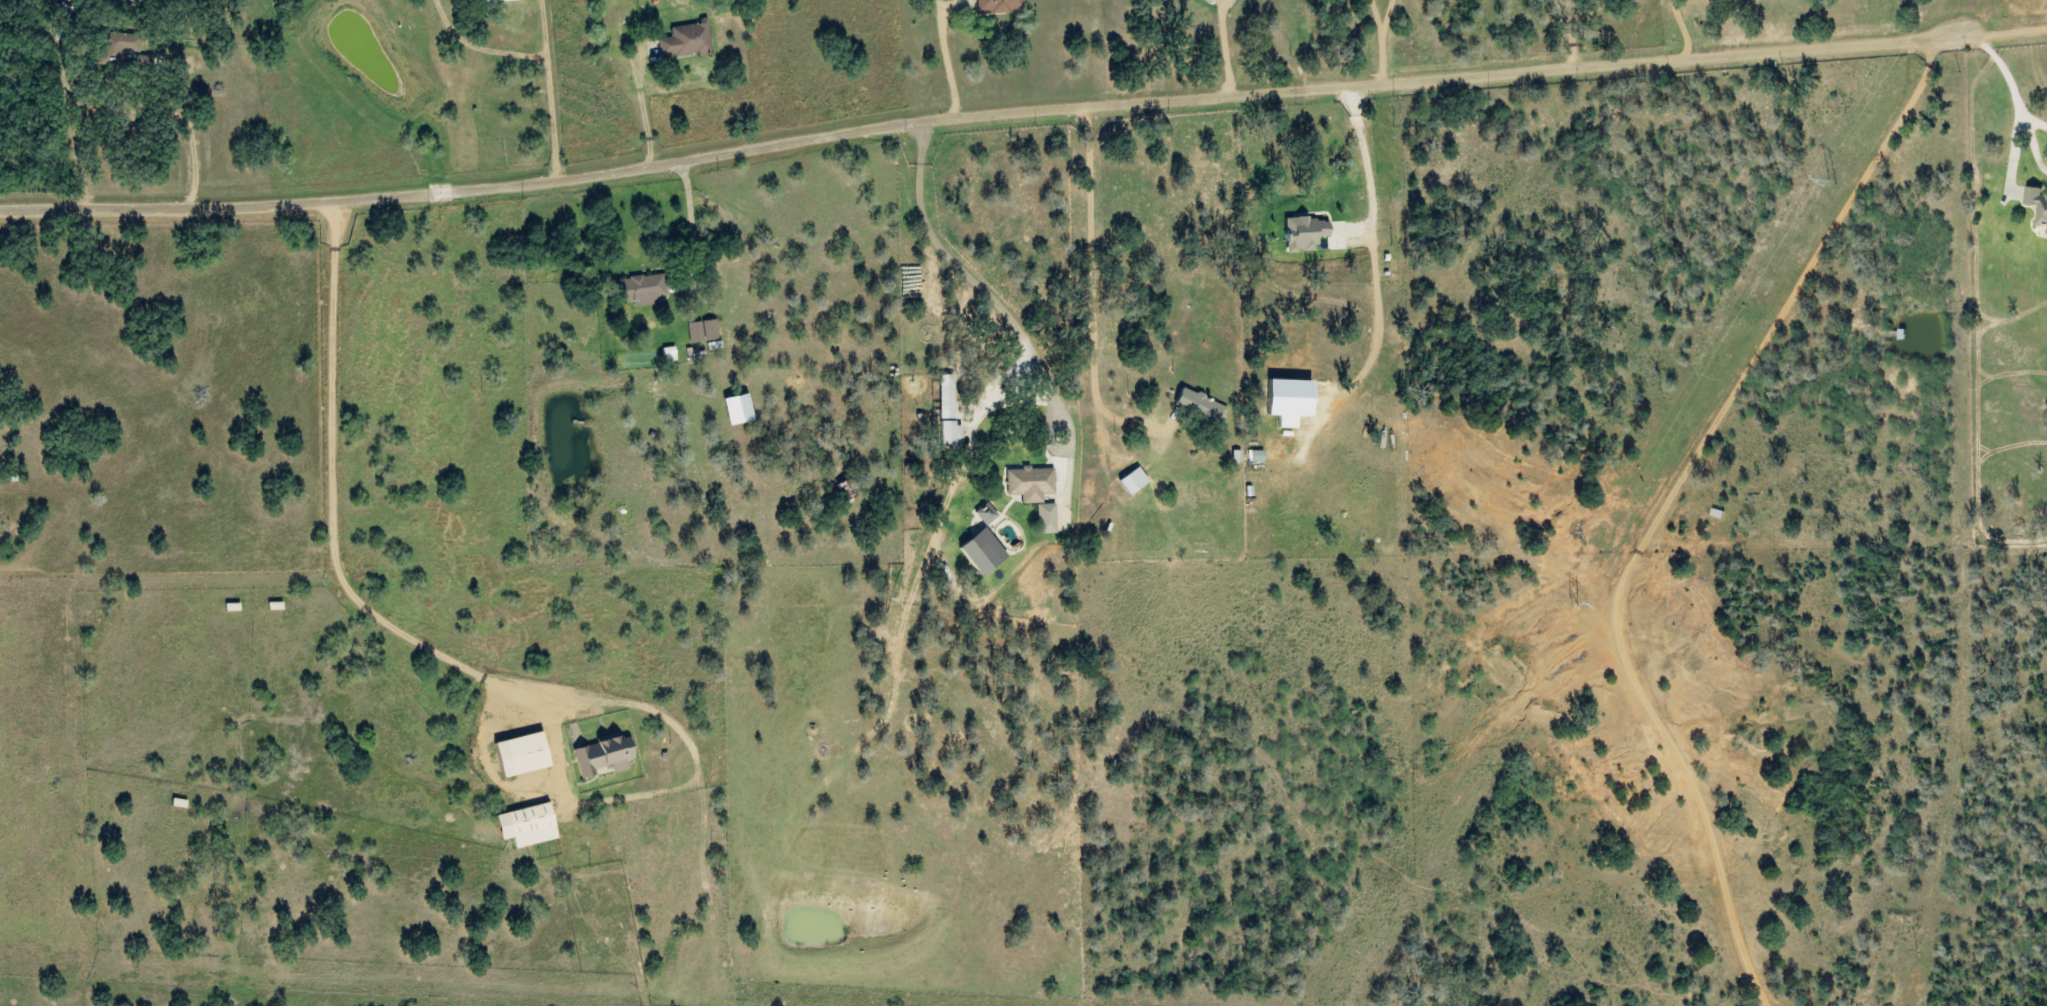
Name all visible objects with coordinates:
building: (494, 0)
road: (1225, 4)
building: (996, 5)
road: (1384, 40)
building: (688, 42)
building: (126, 45)
road: (1226, 46)
road: (946, 51)
road: (981, 115)
road: (1369, 167)
power tower: (1835, 183)
road: (691, 202)
building: (2035, 205)
building: (1301, 234)
road: (981, 288)
building: (648, 290)
building: (707, 334)
building: (670, 355)
building: (1279, 402)
building: (1196, 407)
building: (734, 410)
building: (946, 412)
road: (1071, 429)
building: (1252, 456)
building: (1232, 457)
building: (1128, 482)
building: (1026, 484)
building: (982, 515)
building: (1042, 519)
building: (976, 552)
power tower: (1571, 605)
building: (524, 756)
building: (606, 757)
building: (530, 826)

